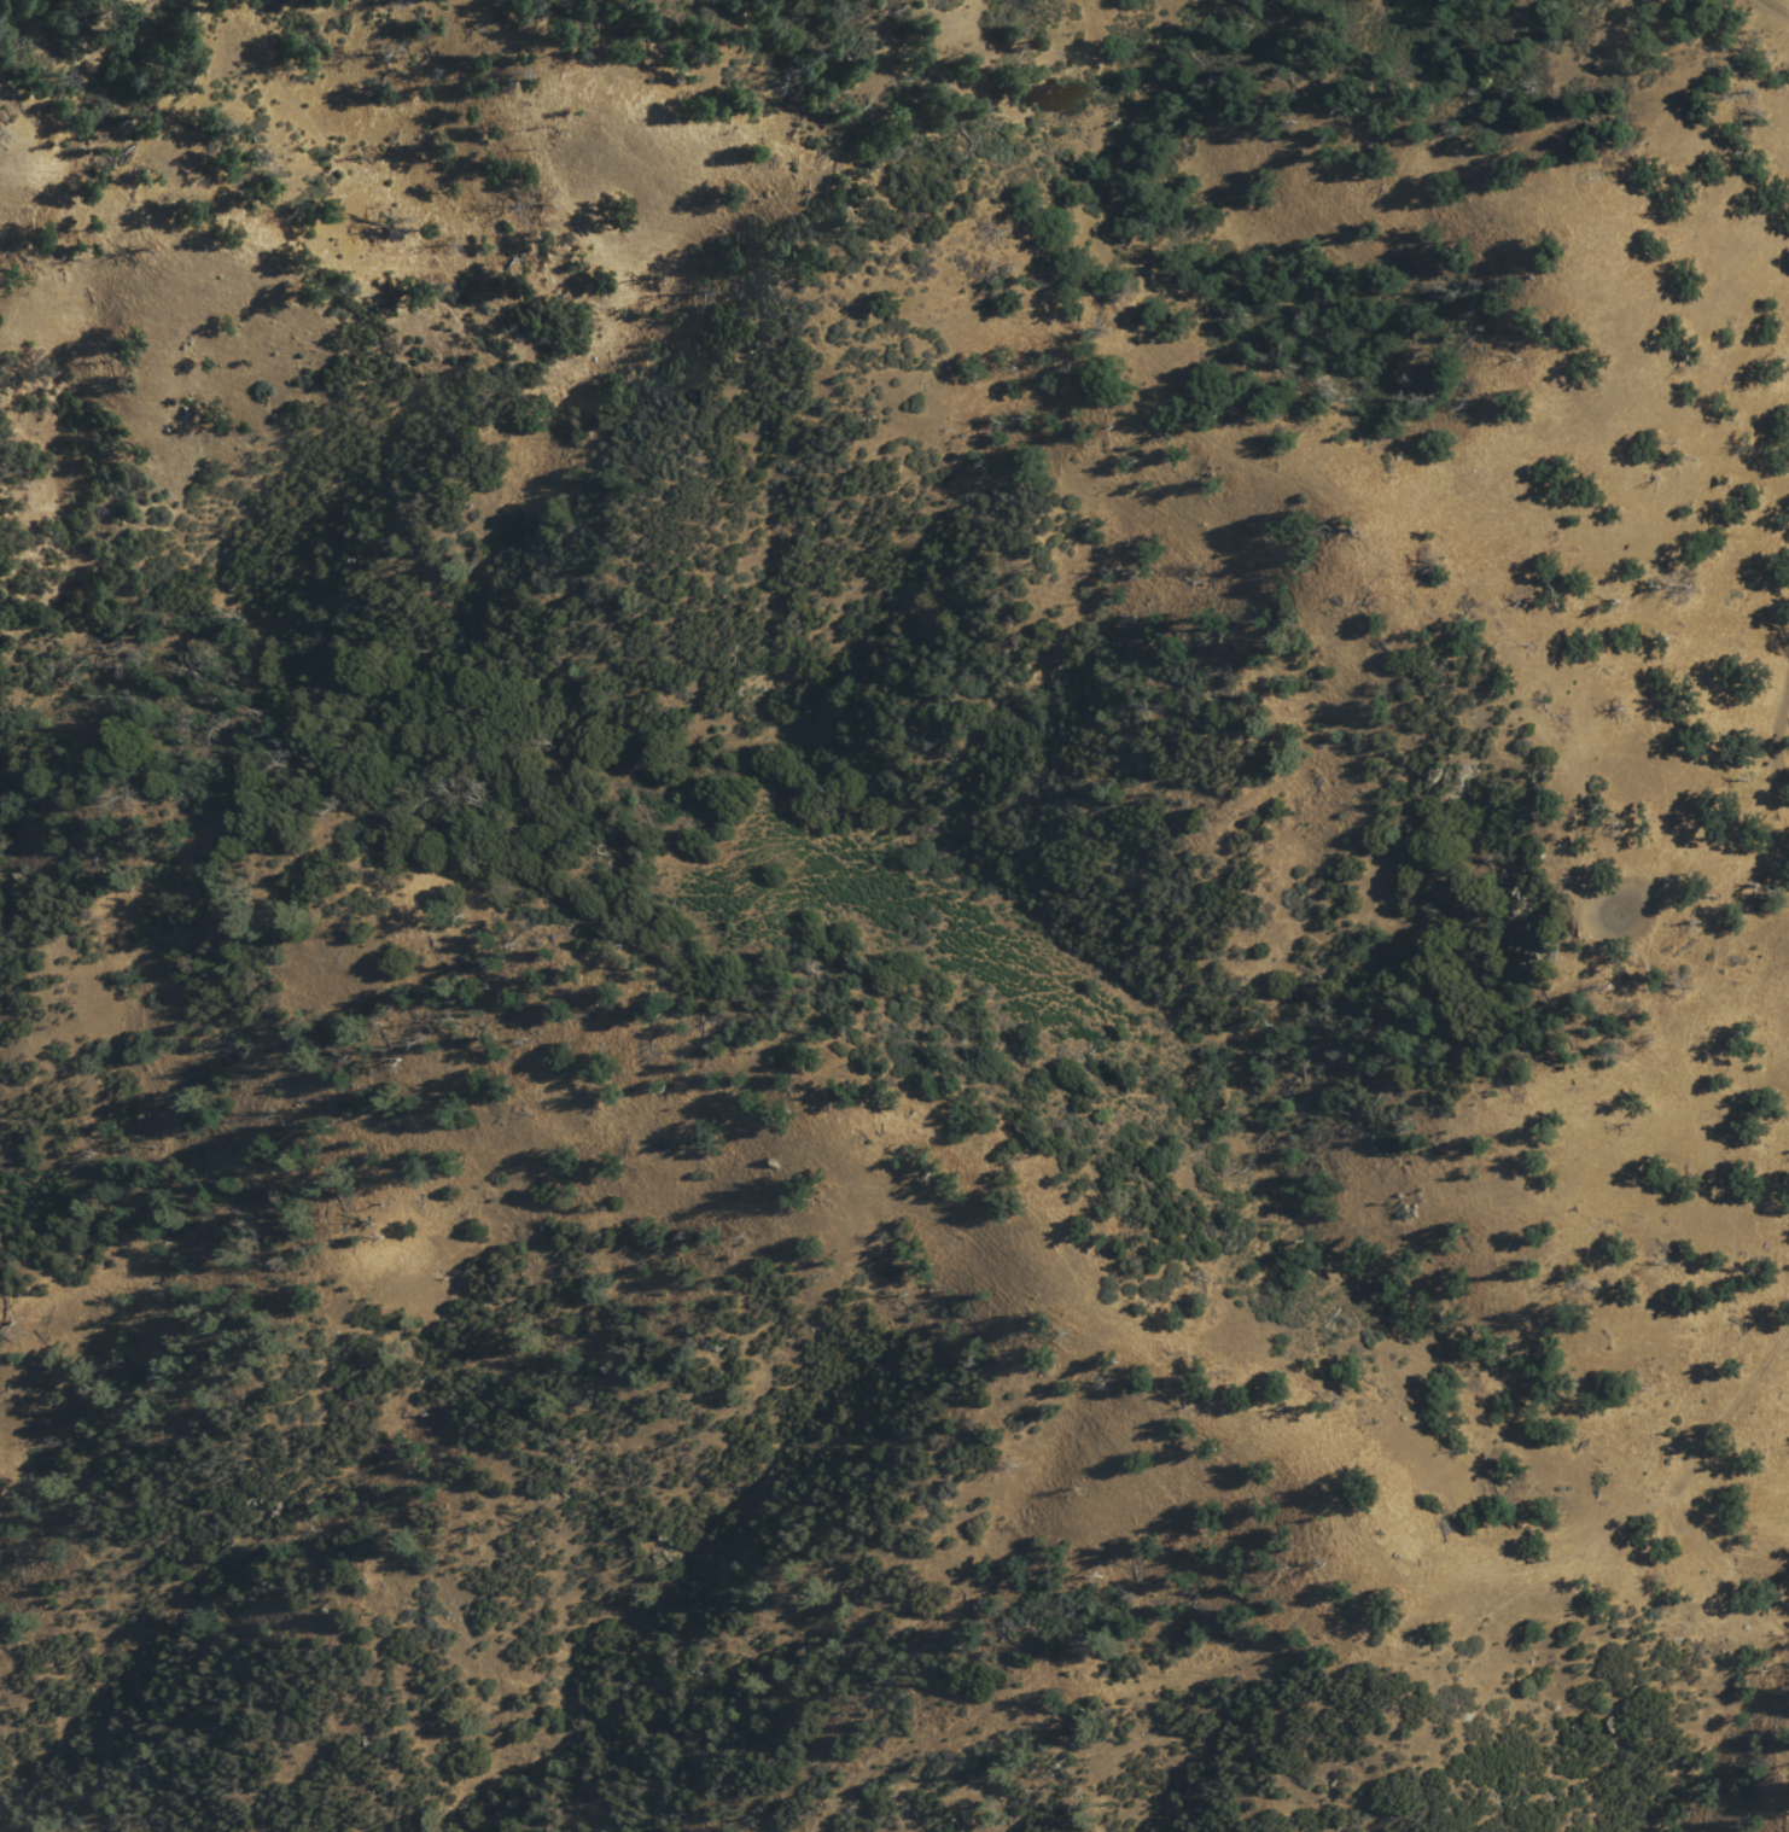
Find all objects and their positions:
road: (1766, 12)
road: (1768, 730)

